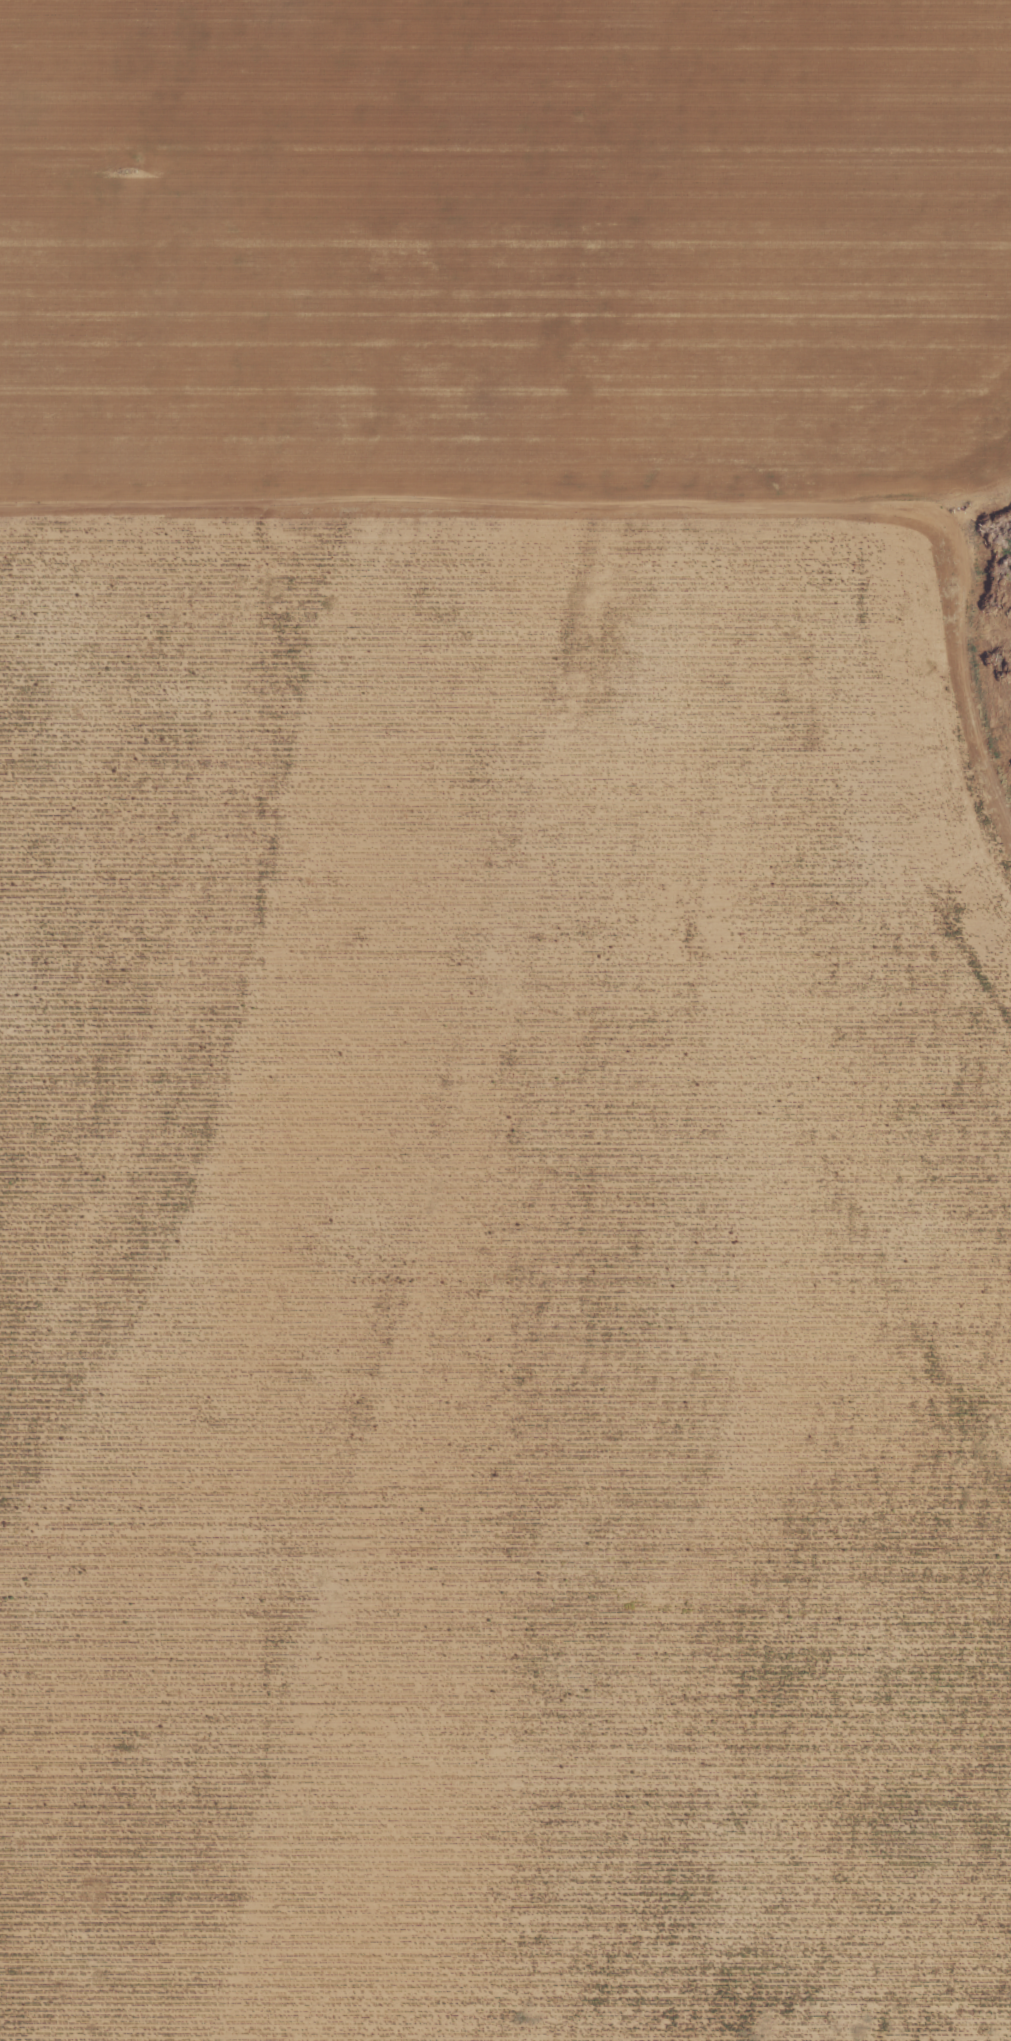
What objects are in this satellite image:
road: (44, 174)

